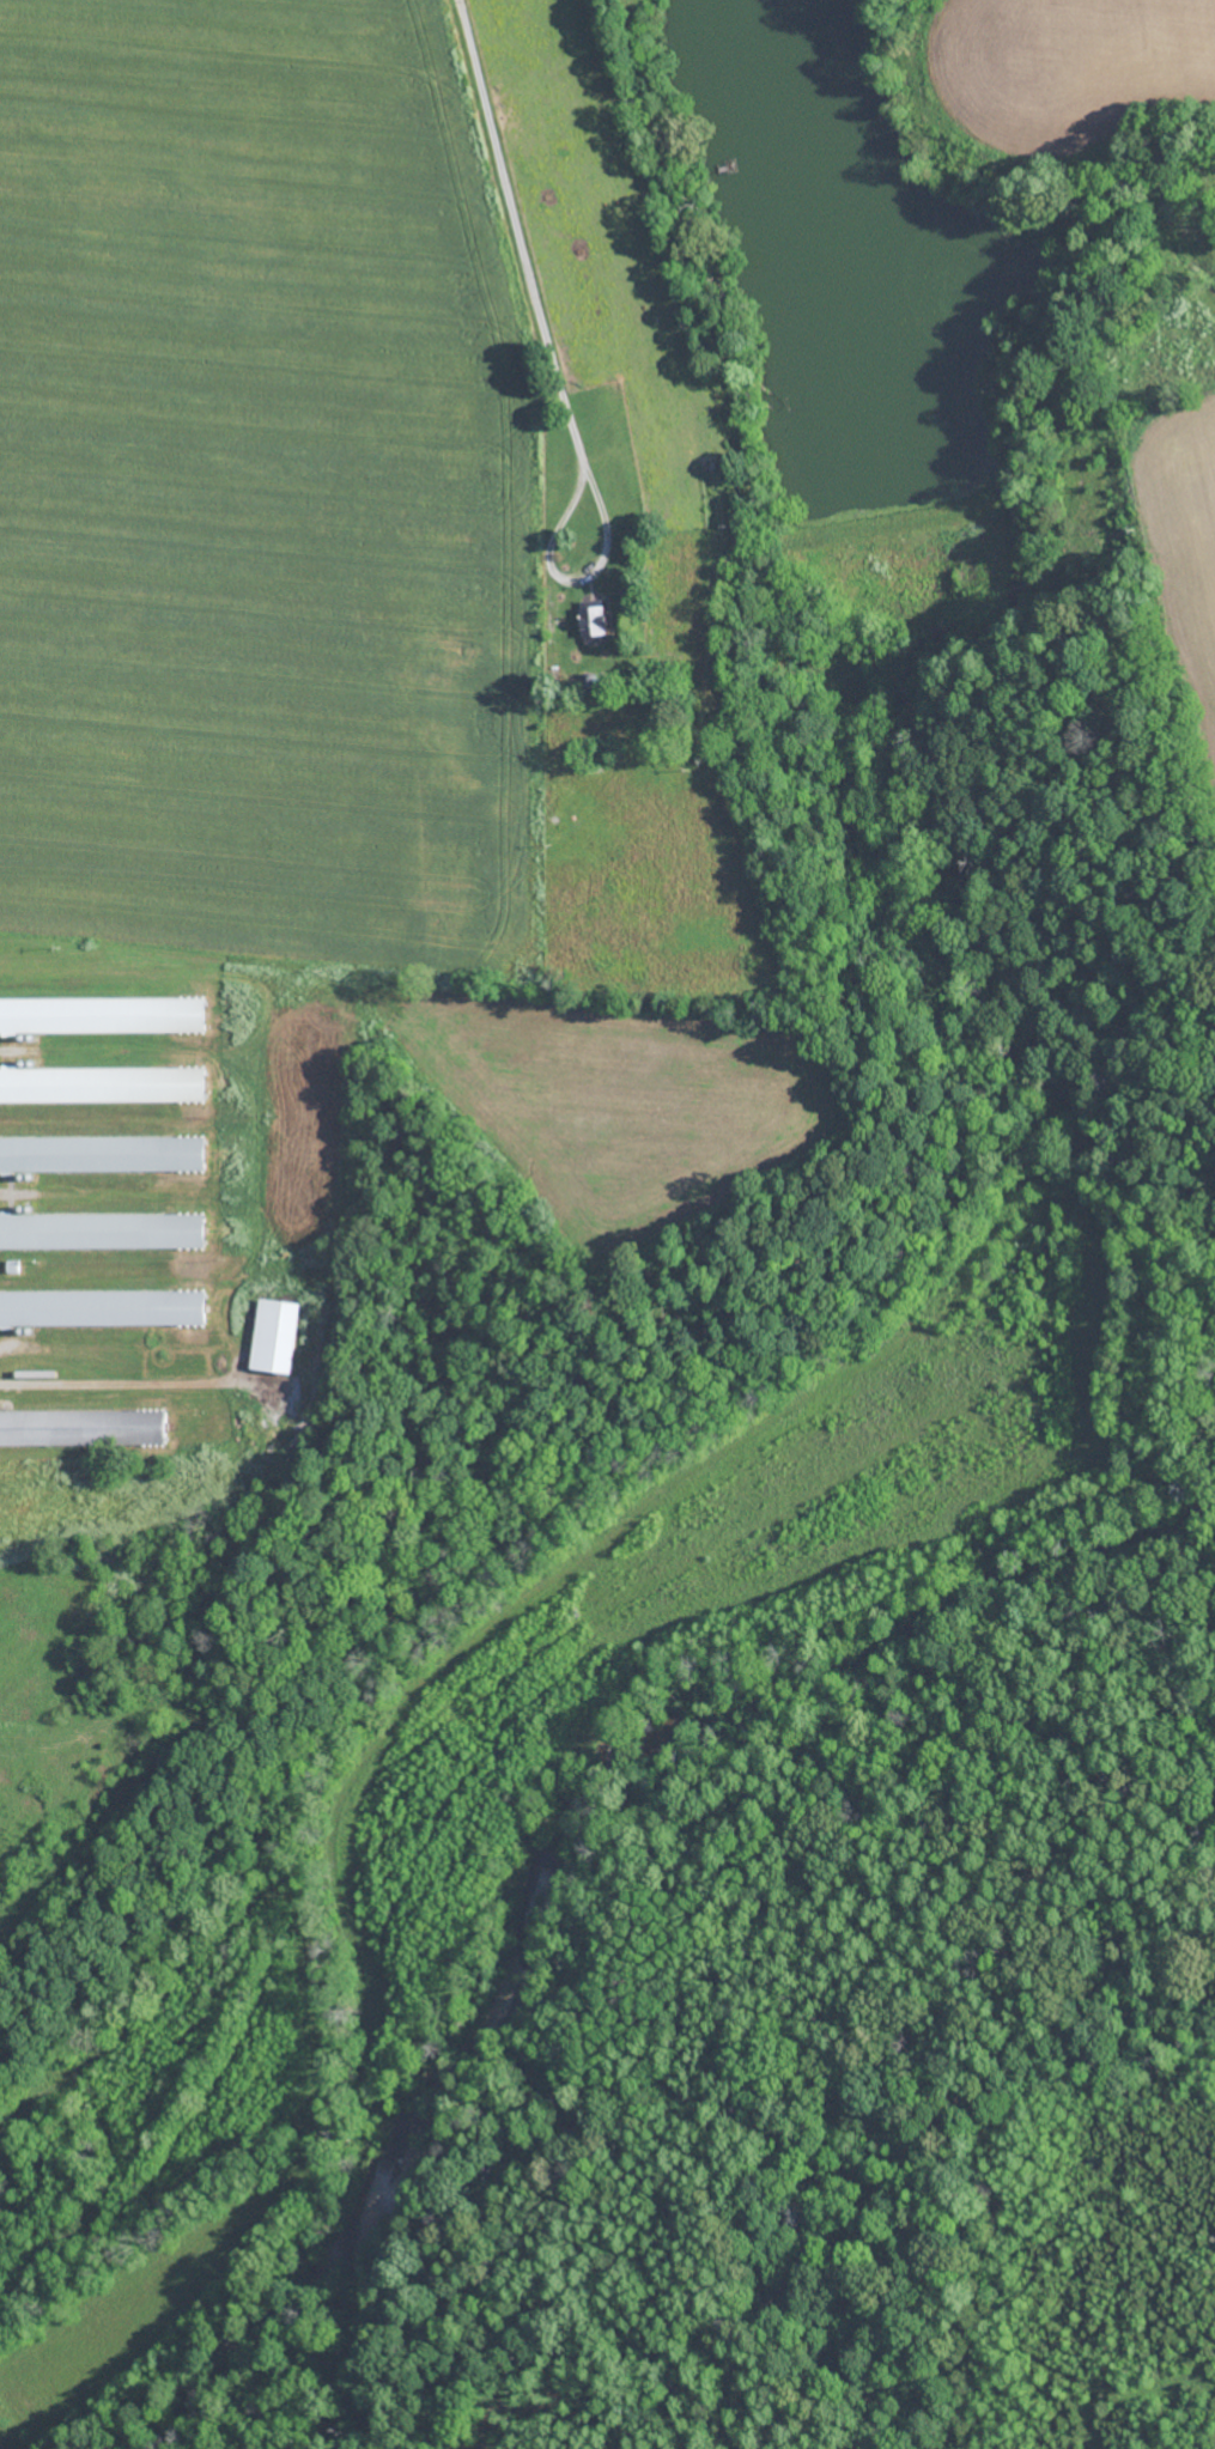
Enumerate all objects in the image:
building: (595, 624)
building: (103, 1014)
building: (103, 1083)
building: (103, 1153)
building: (103, 1230)
building: (103, 1307)
building: (277, 1335)
building: (84, 1428)

